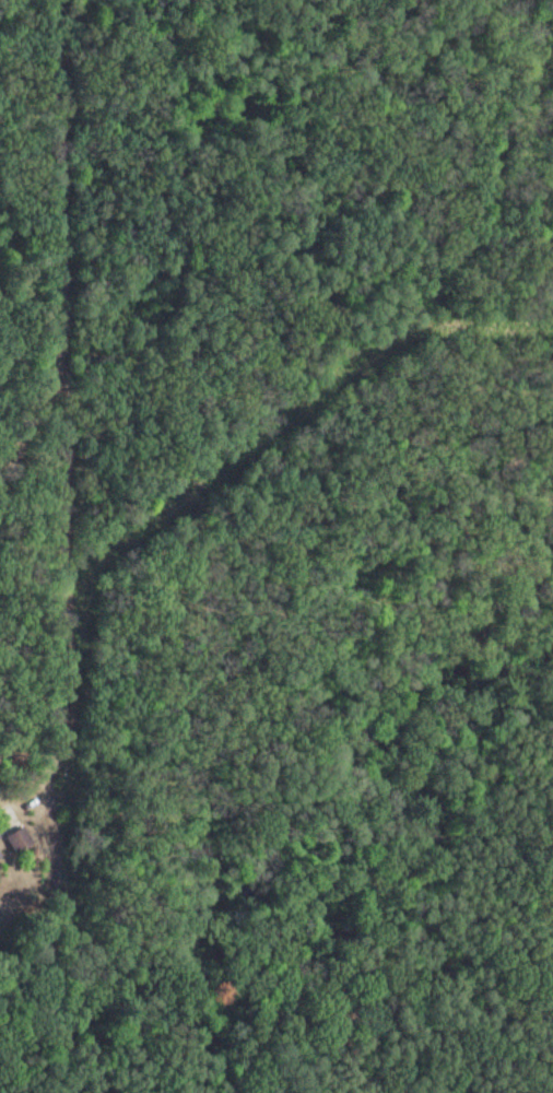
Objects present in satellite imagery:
road: (61, 168)
road: (32, 412)
road: (66, 585)
building: (19, 839)
building: (0, 857)

